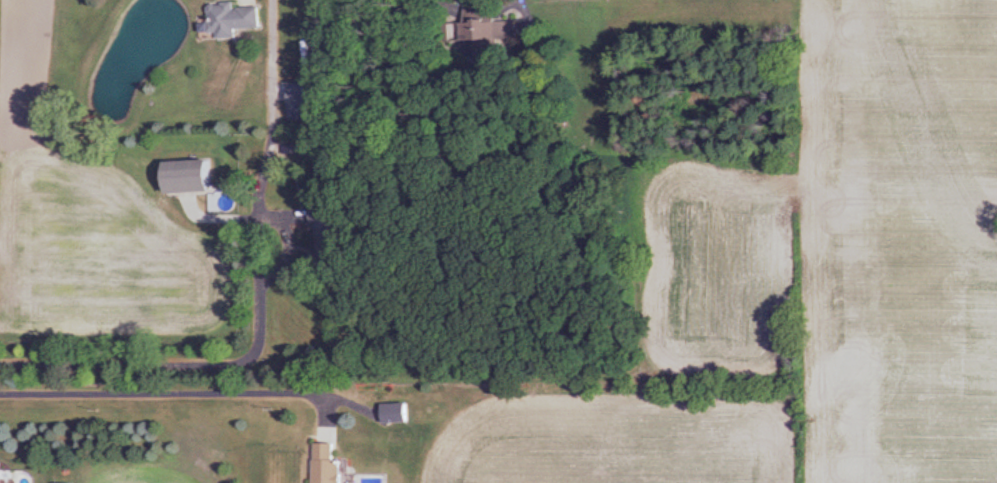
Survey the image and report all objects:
building: (236, 20)
building: (491, 33)
building: (309, 103)
building: (330, 244)
road: (254, 300)
road: (168, 389)
building: (399, 414)
building: (331, 465)
building: (2, 474)

